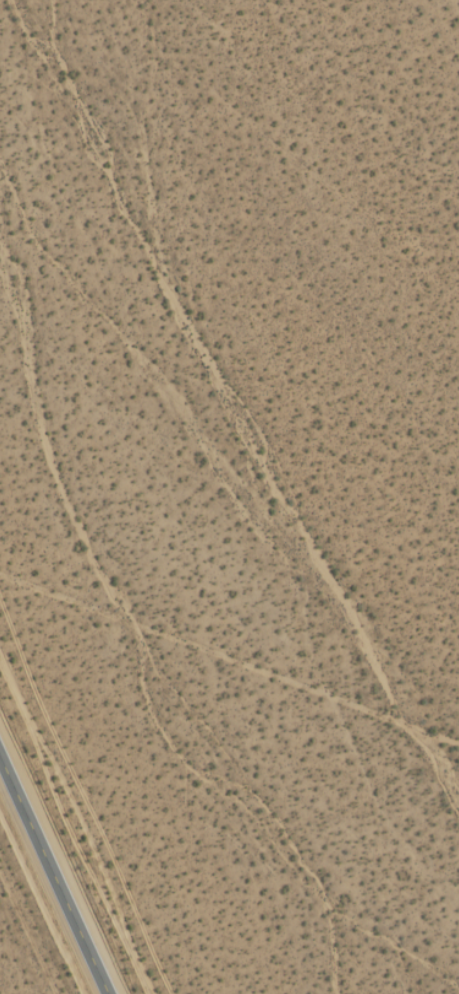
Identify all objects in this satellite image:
road: (53, 876)

